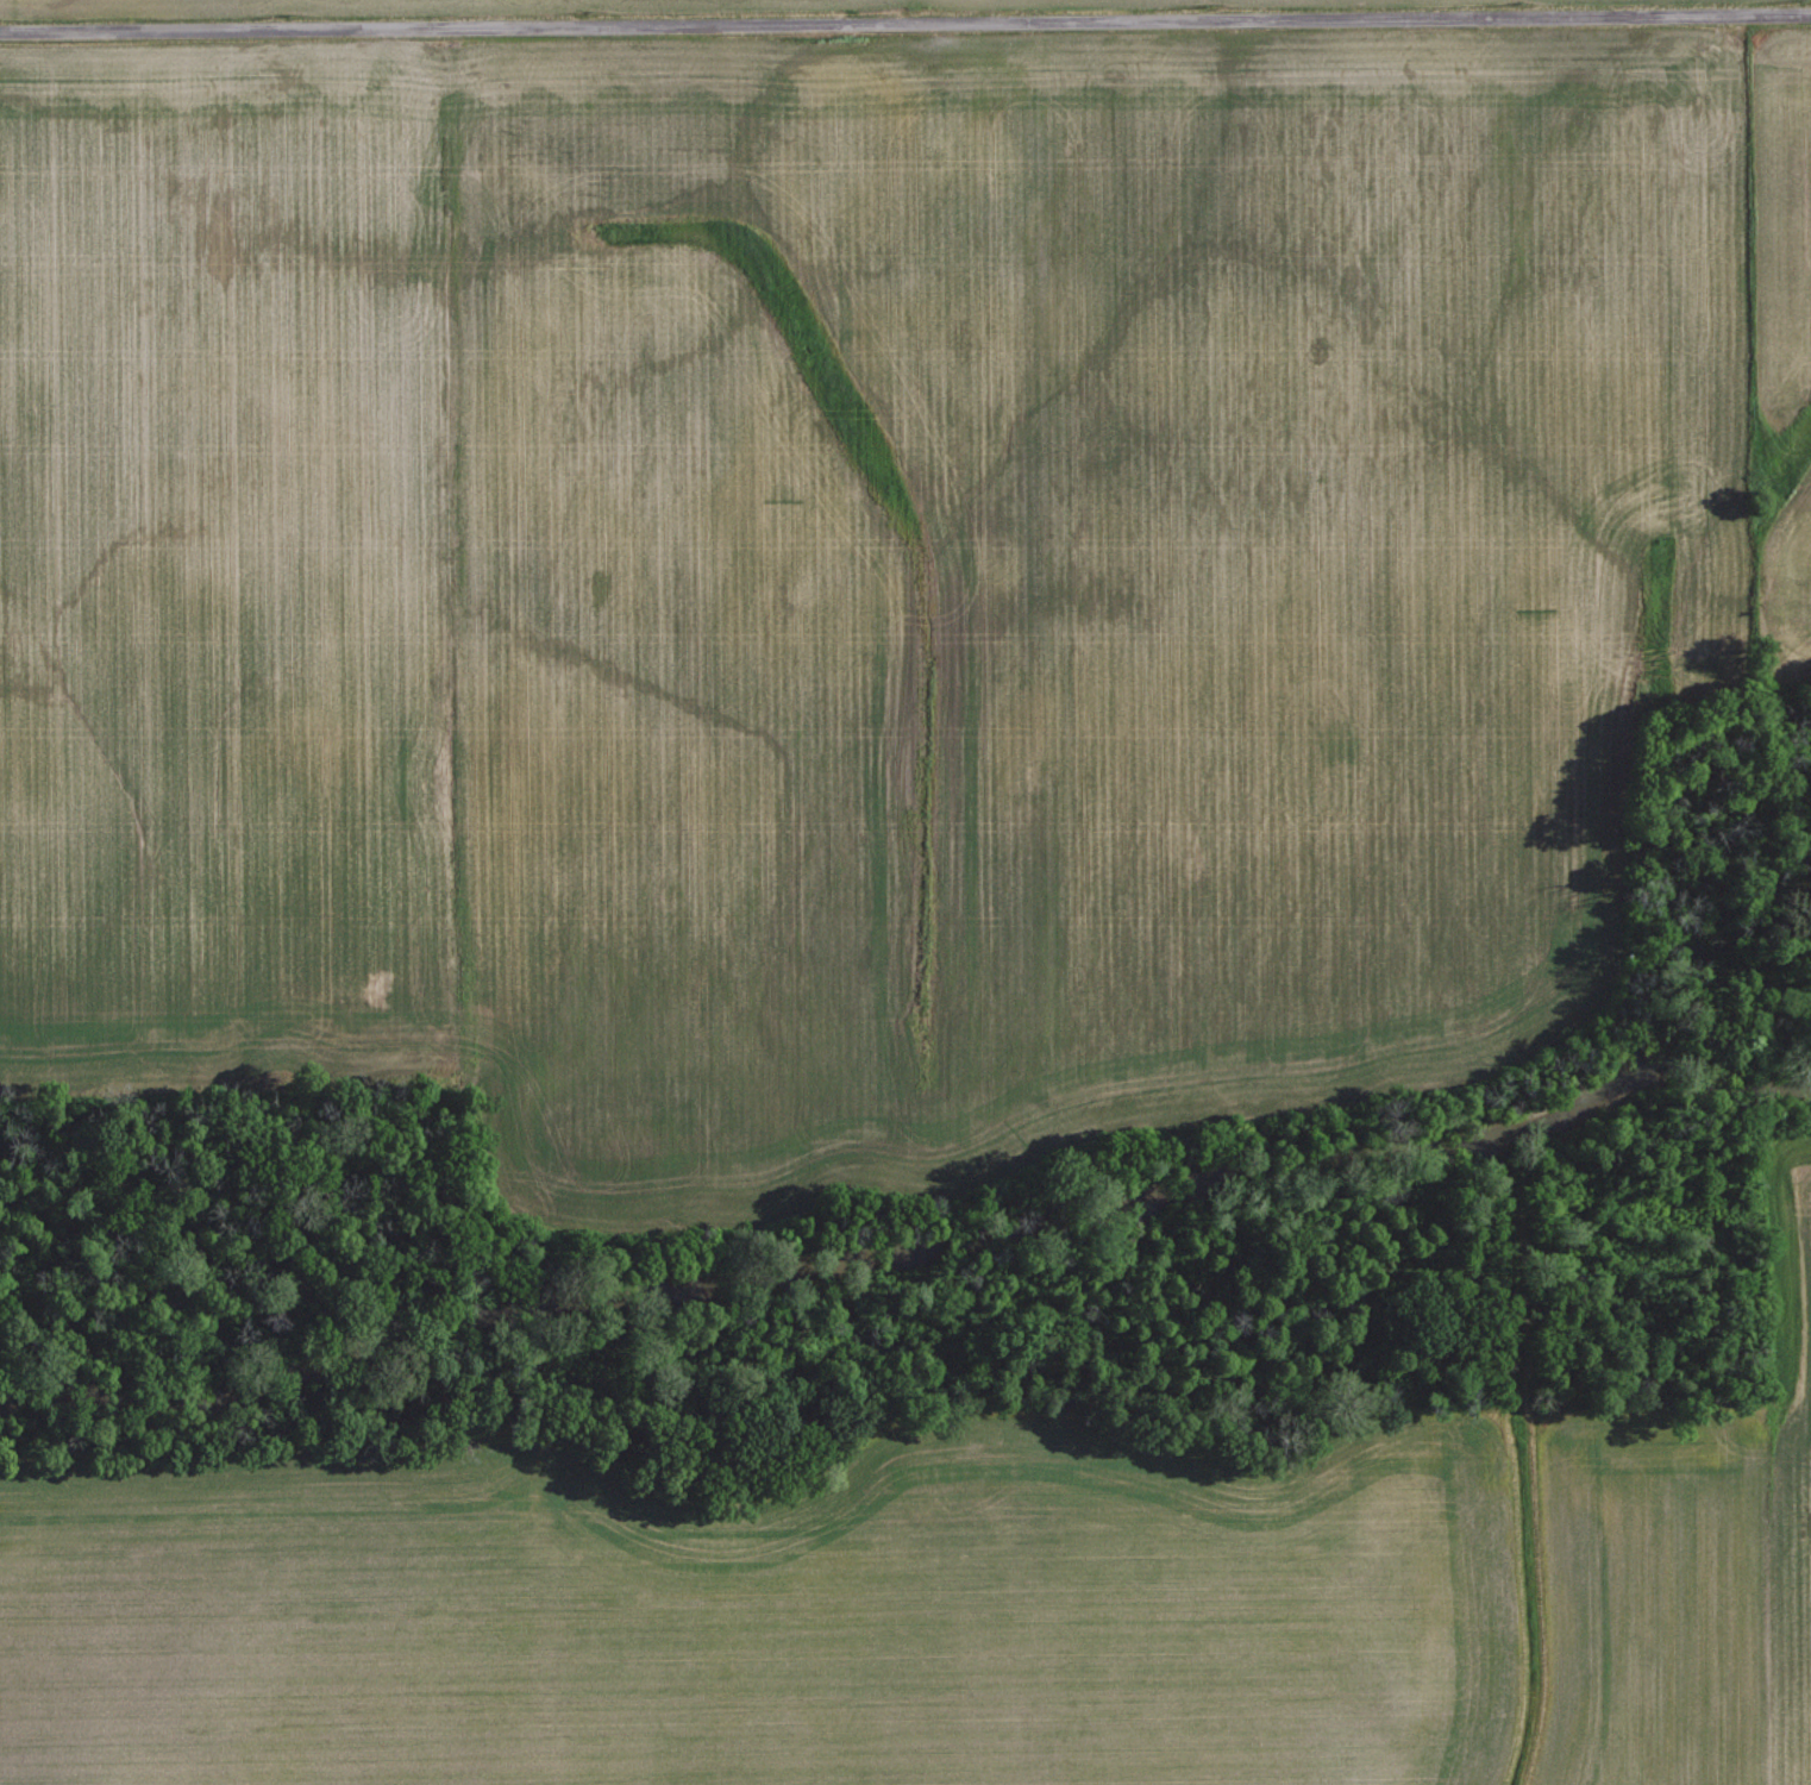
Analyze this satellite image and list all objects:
road: (904, 21)
river: (908, 1238)

